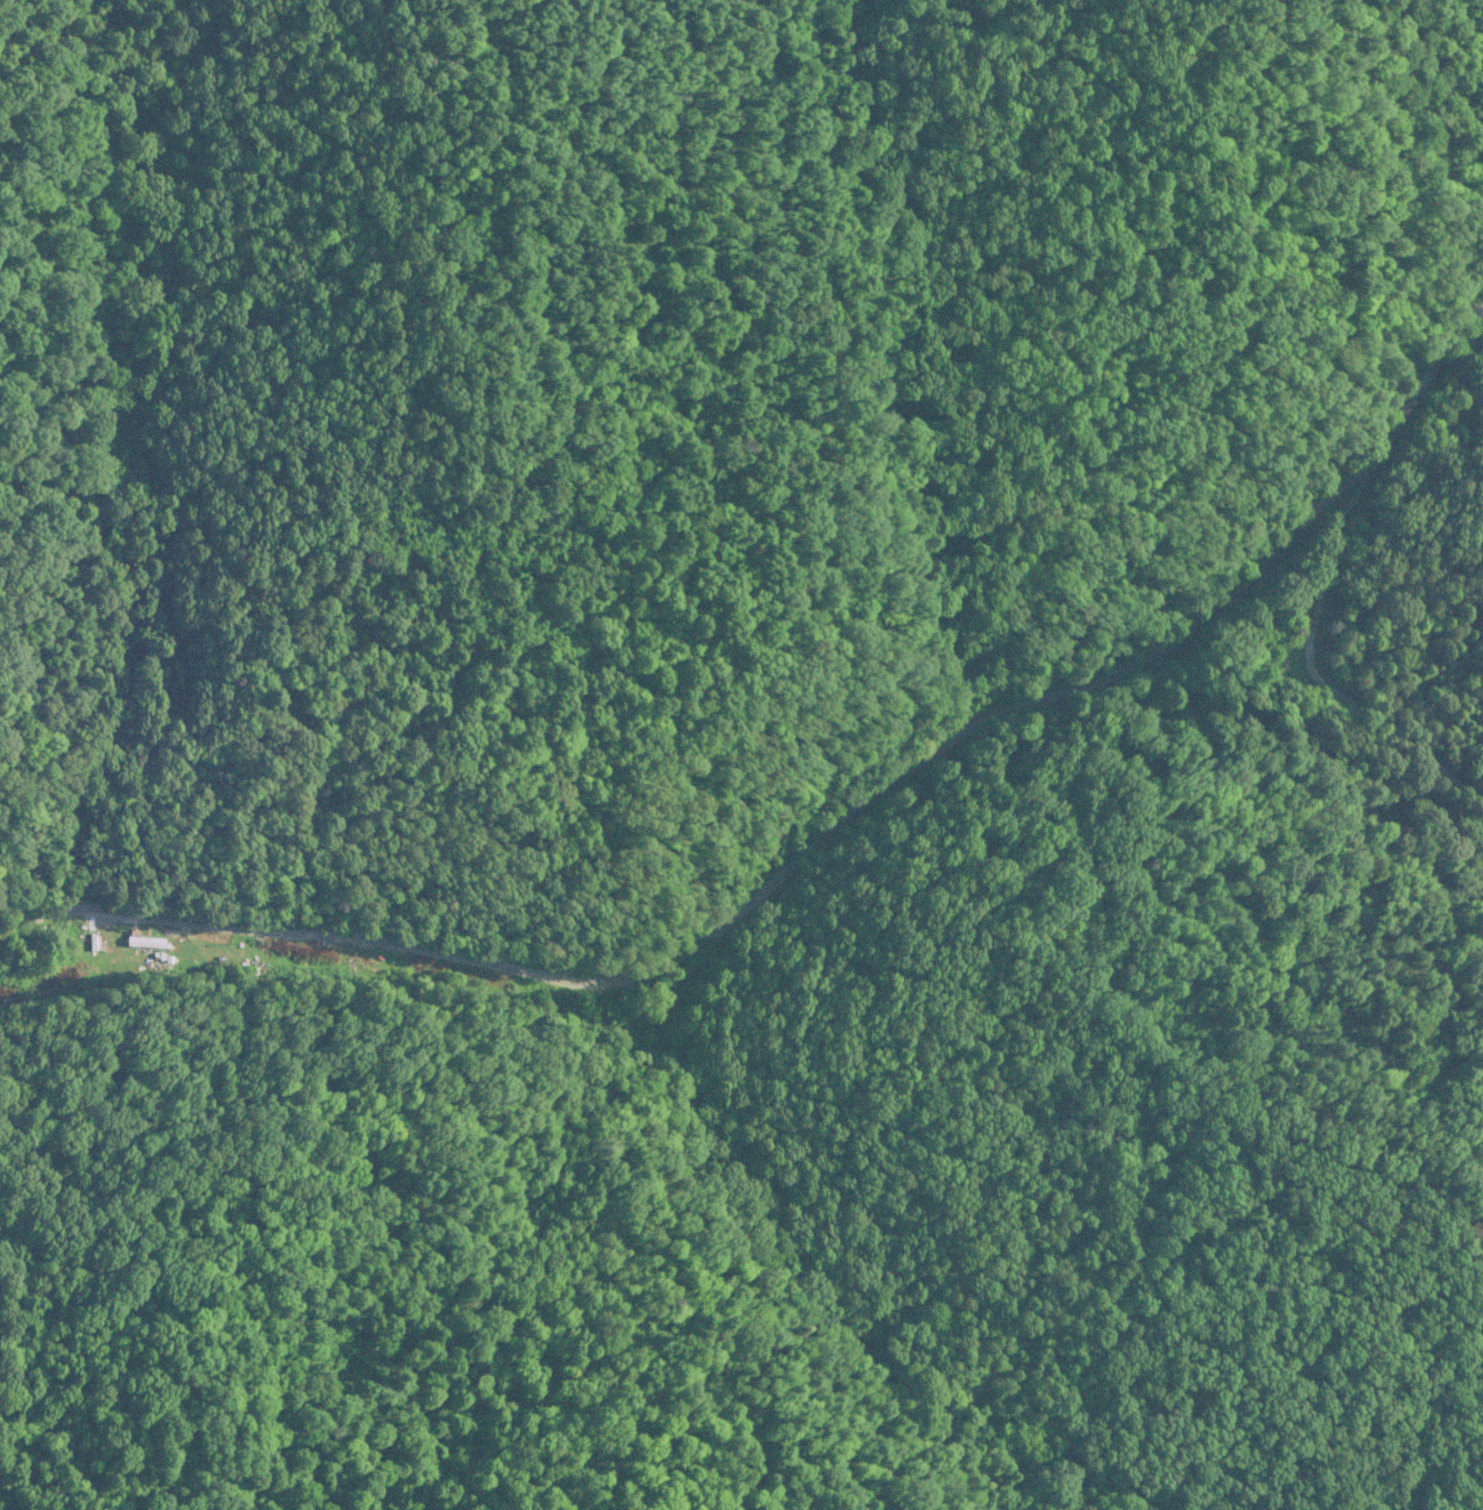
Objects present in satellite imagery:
road: (836, 919)

